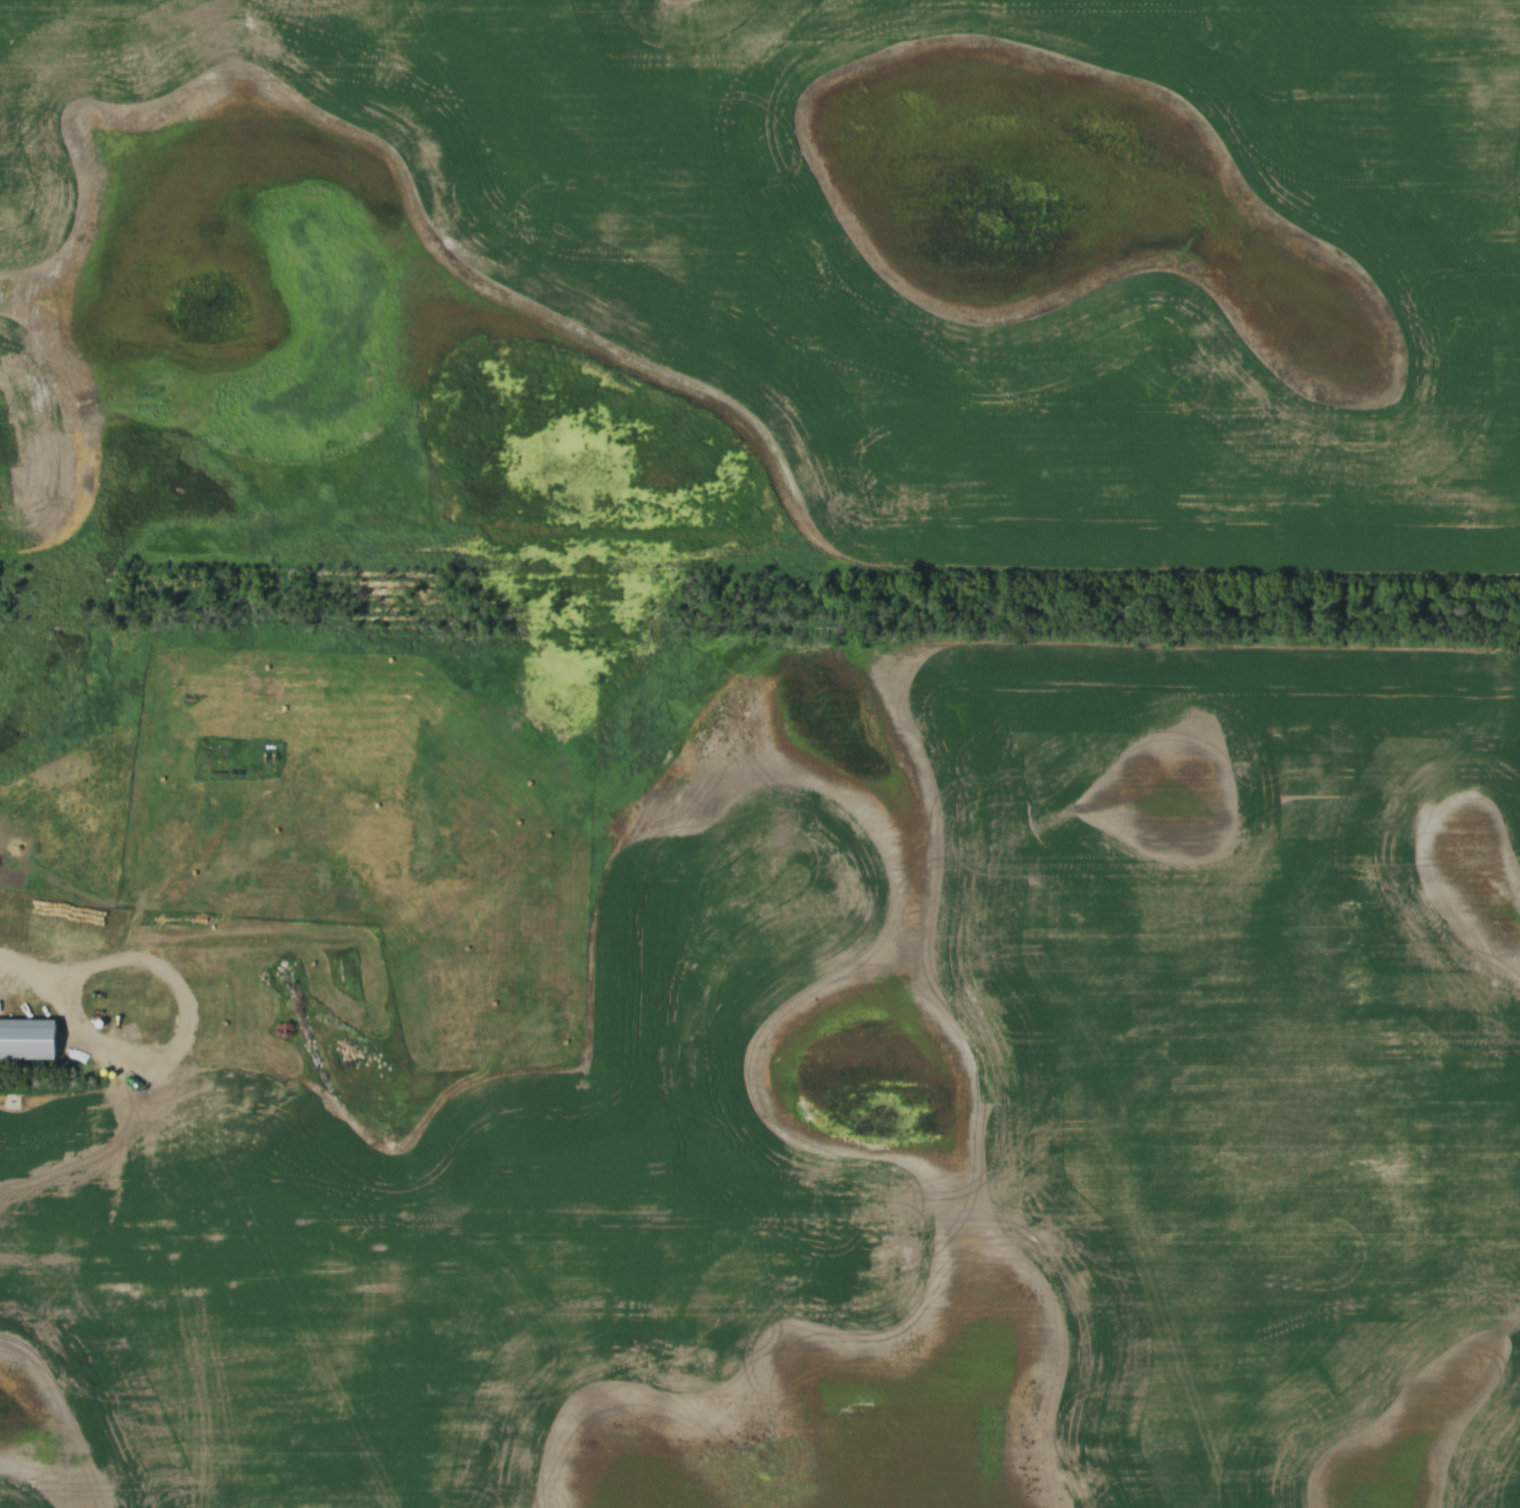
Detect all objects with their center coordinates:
building: (26, 1040)

